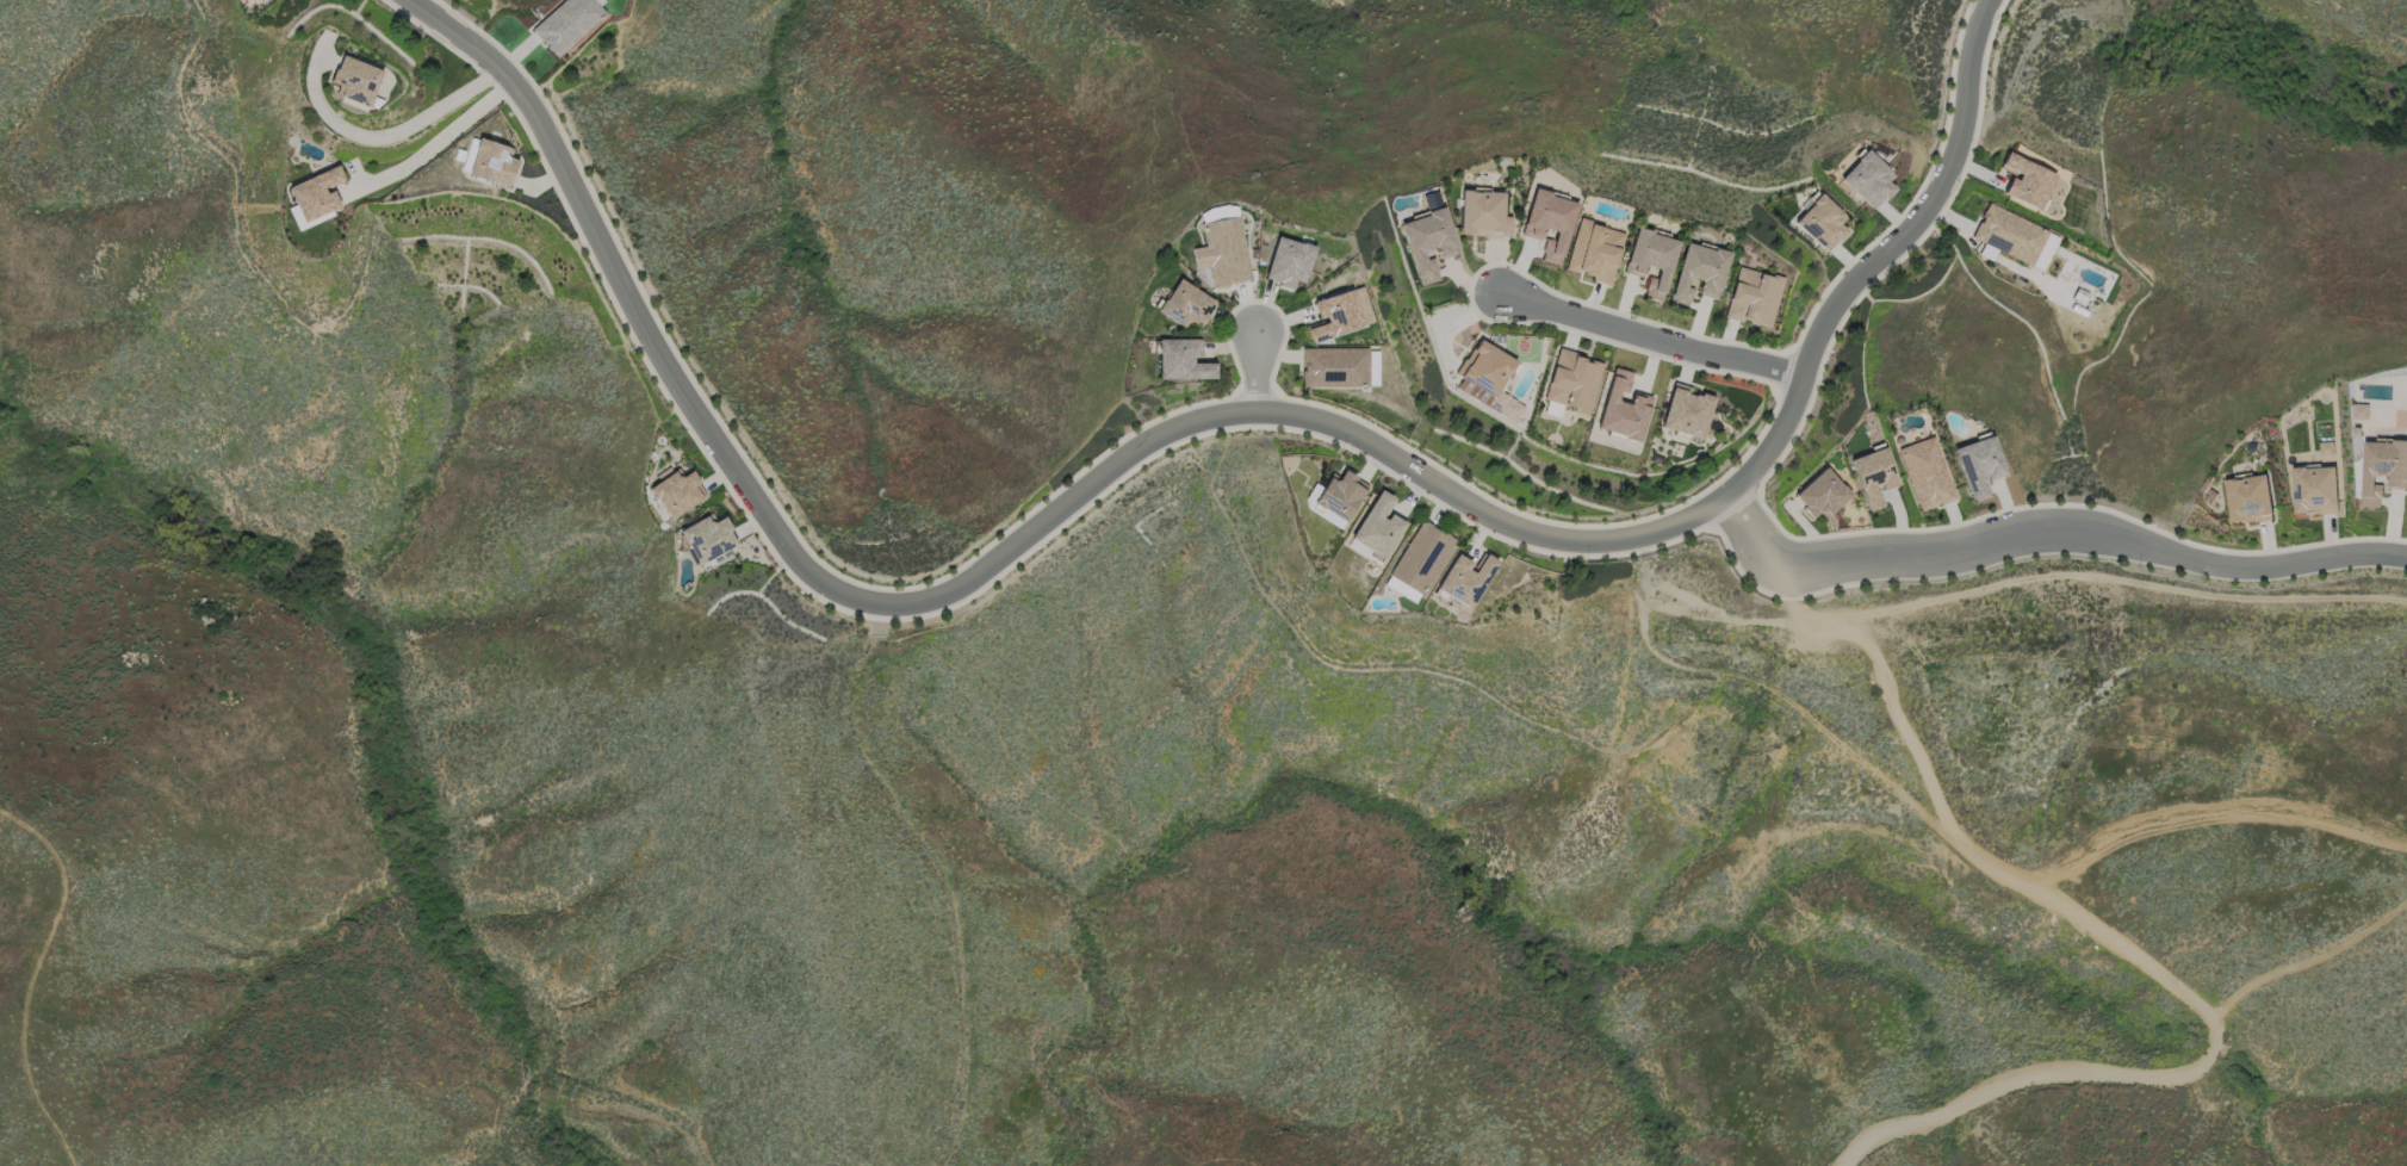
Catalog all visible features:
building: (260, 0)
building: (566, 23)
building: (355, 80)
road: (386, 134)
road: (436, 136)
building: (491, 162)
building: (2028, 175)
building: (1868, 180)
building: (315, 193)
building: (1482, 213)
building: (1549, 222)
building: (1820, 222)
road: (240, 224)
building: (2012, 237)
building: (1427, 241)
building: (1222, 250)
building: (1594, 250)
building: (1650, 260)
building: (1288, 261)
building: (1698, 272)
building: (1752, 296)
building: (1185, 304)
building: (1340, 312)
road: (1640, 331)
building: (1181, 360)
building: (1334, 366)
road: (1258, 368)
building: (1489, 376)
building: (1572, 380)
building: (1621, 408)
building: (1686, 410)
building: (2359, 410)
road: (1198, 422)
building: (2325, 447)
building: (1978, 465)
building: (2382, 469)
building: (1925, 472)
building: (1873, 475)
building: (2314, 489)
building: (676, 491)
building: (1820, 492)
building: (1339, 494)
building: (2247, 498)
building: (1377, 525)
road: (2049, 529)
building: (707, 538)
road: (1061, 540)
building: (1420, 556)
road: (2020, 573)
building: (1466, 578)
road: (911, 635)
road: (1409, 669)
road: (329, 750)
road: (2211, 821)
road: (941, 870)
road: (1212, 887)
road: (2097, 924)
road: (30, 978)
road: (650, 1116)
road: (2167, 1117)

